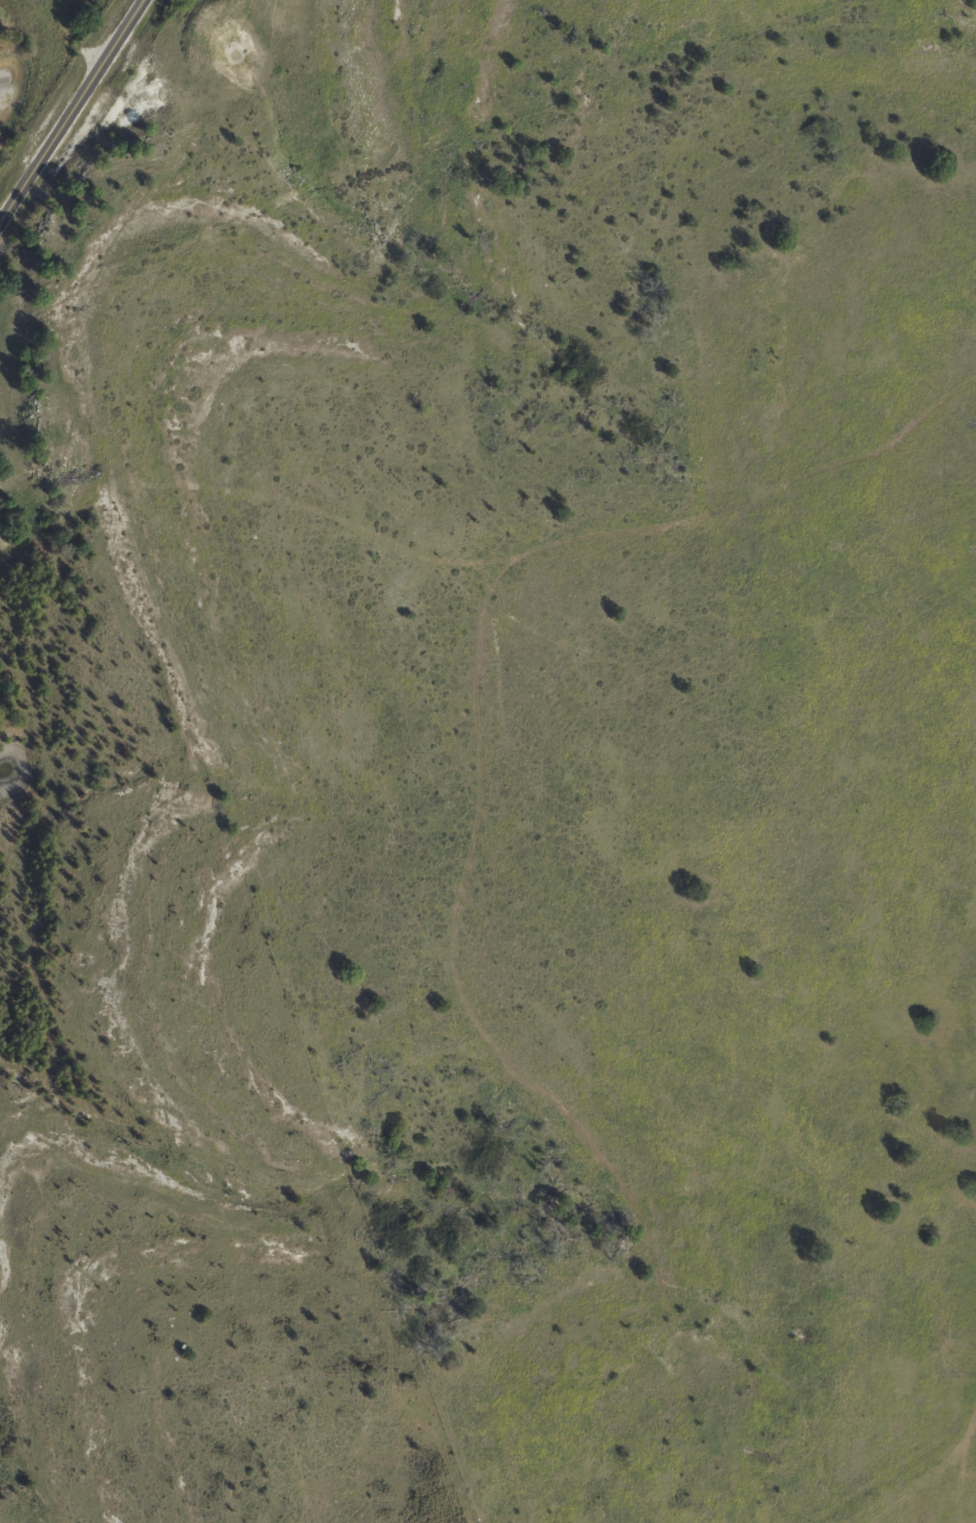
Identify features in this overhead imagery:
road: (72, 113)

